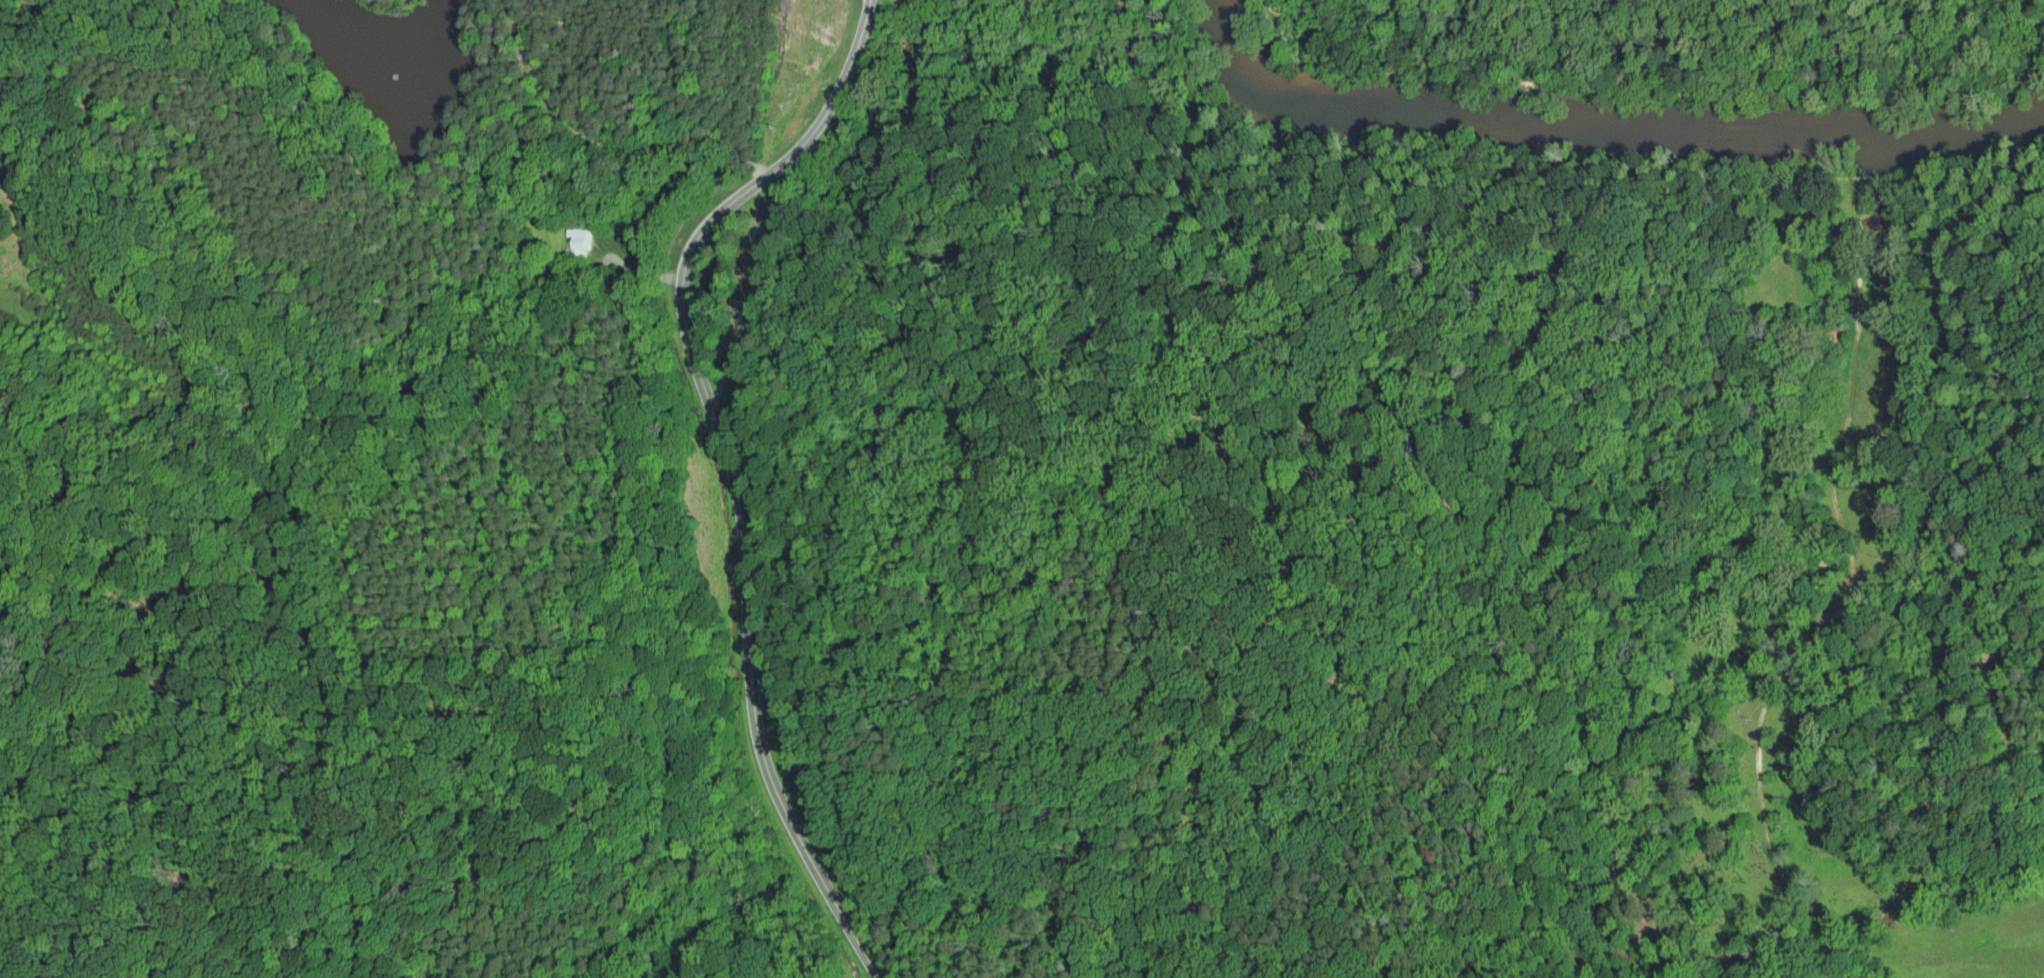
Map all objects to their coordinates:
river: (1232, 52)
river: (1579, 122)
river: (1968, 126)
road: (604, 142)
building: (568, 234)
building: (581, 241)
road: (634, 275)
road: (1323, 281)
road: (1993, 320)
road: (1636, 414)
road: (1836, 447)
road: (730, 466)
road: (1756, 534)
road: (1902, 565)
road: (2003, 573)
road: (1970, 611)
road: (1945, 636)
road: (1986, 671)
building: (1807, 718)
road: (2004, 725)
road: (2035, 748)
road: (1758, 753)
road: (1939, 763)
road: (1856, 792)
building: (1663, 801)
building: (1628, 840)
road: (1172, 869)
road: (1731, 874)
road: (1805, 950)
road: (1819, 968)

